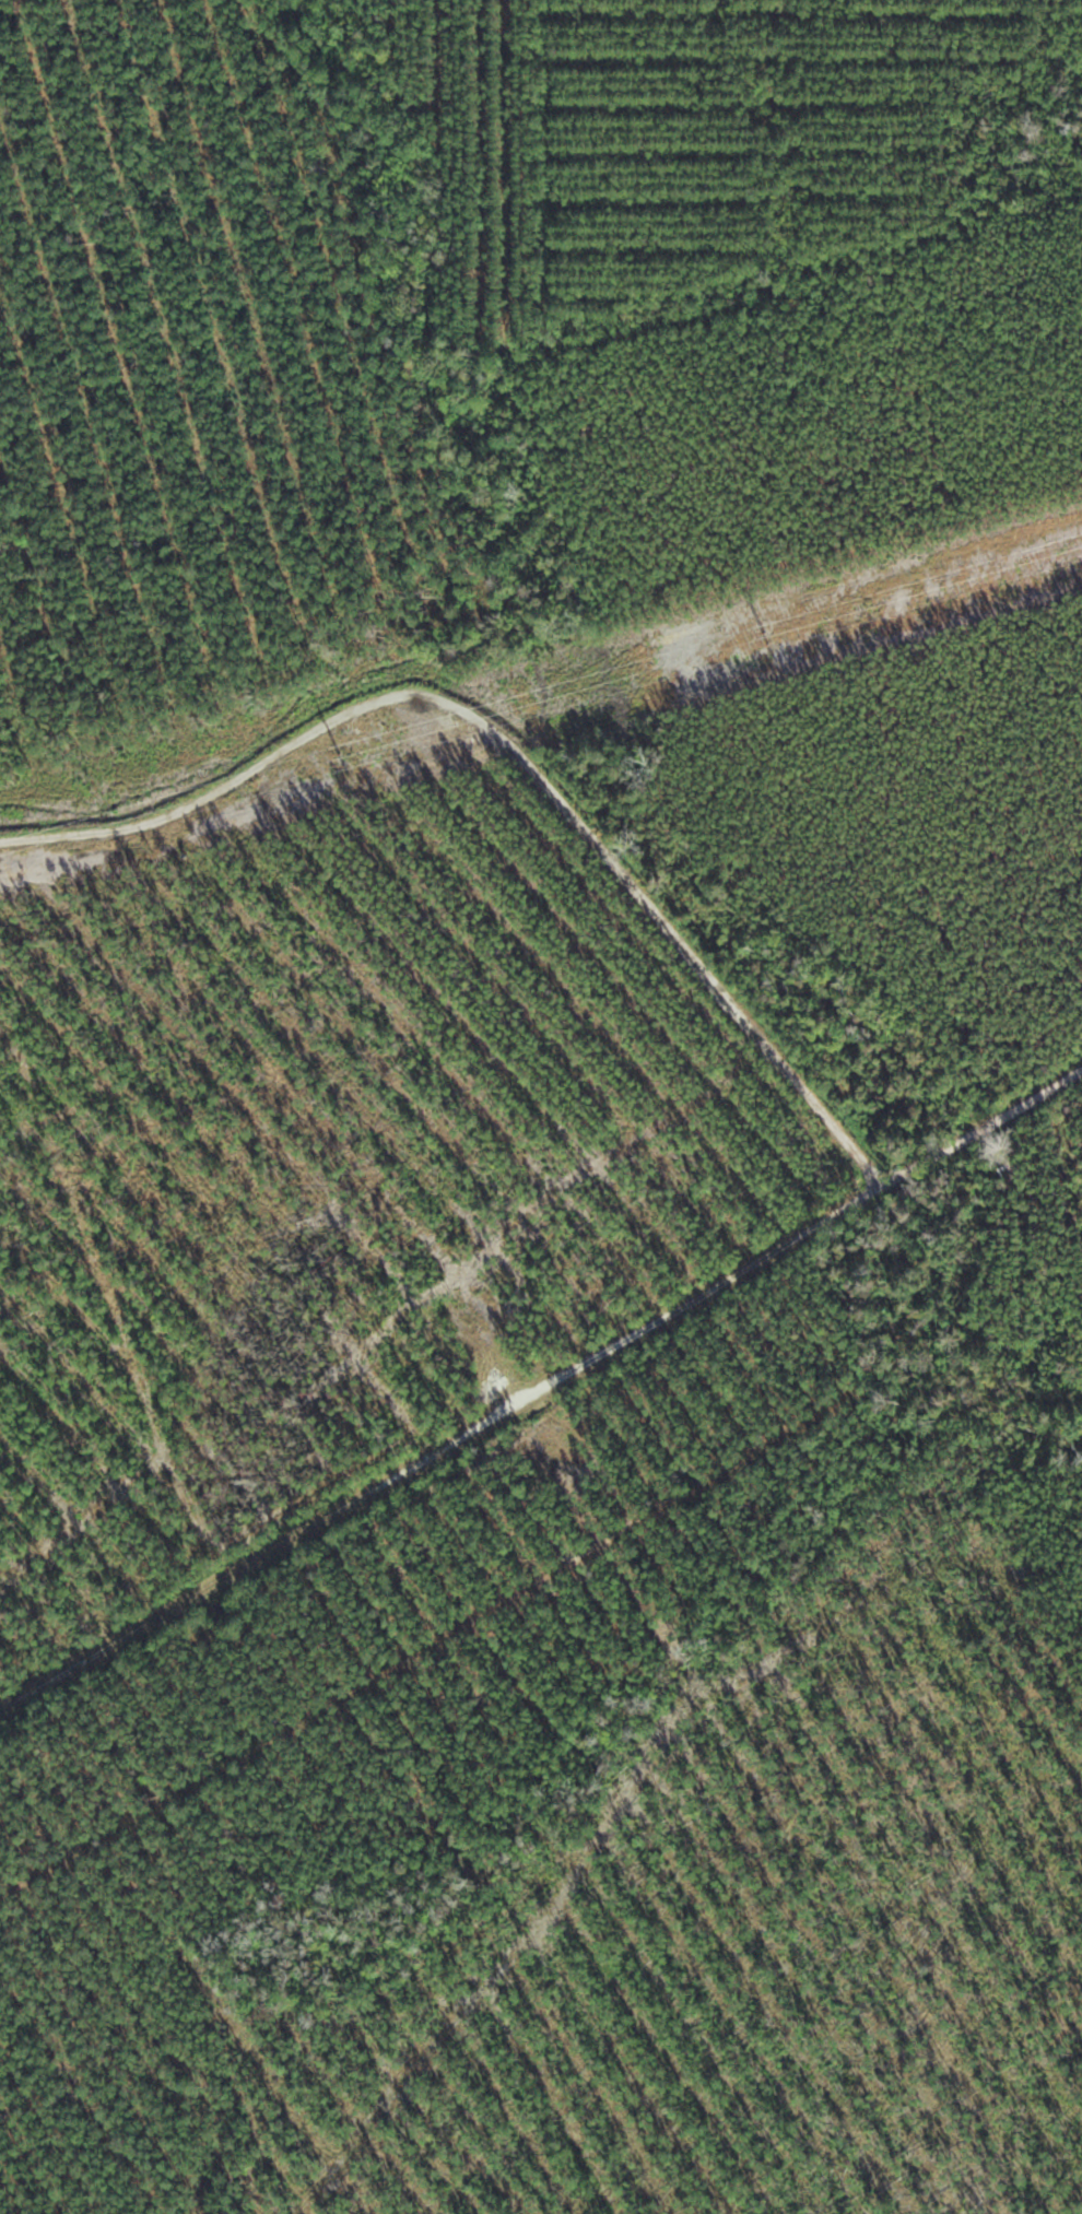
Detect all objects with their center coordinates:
road: (588, 779)
building: (1015, 1171)
road: (471, 1410)

